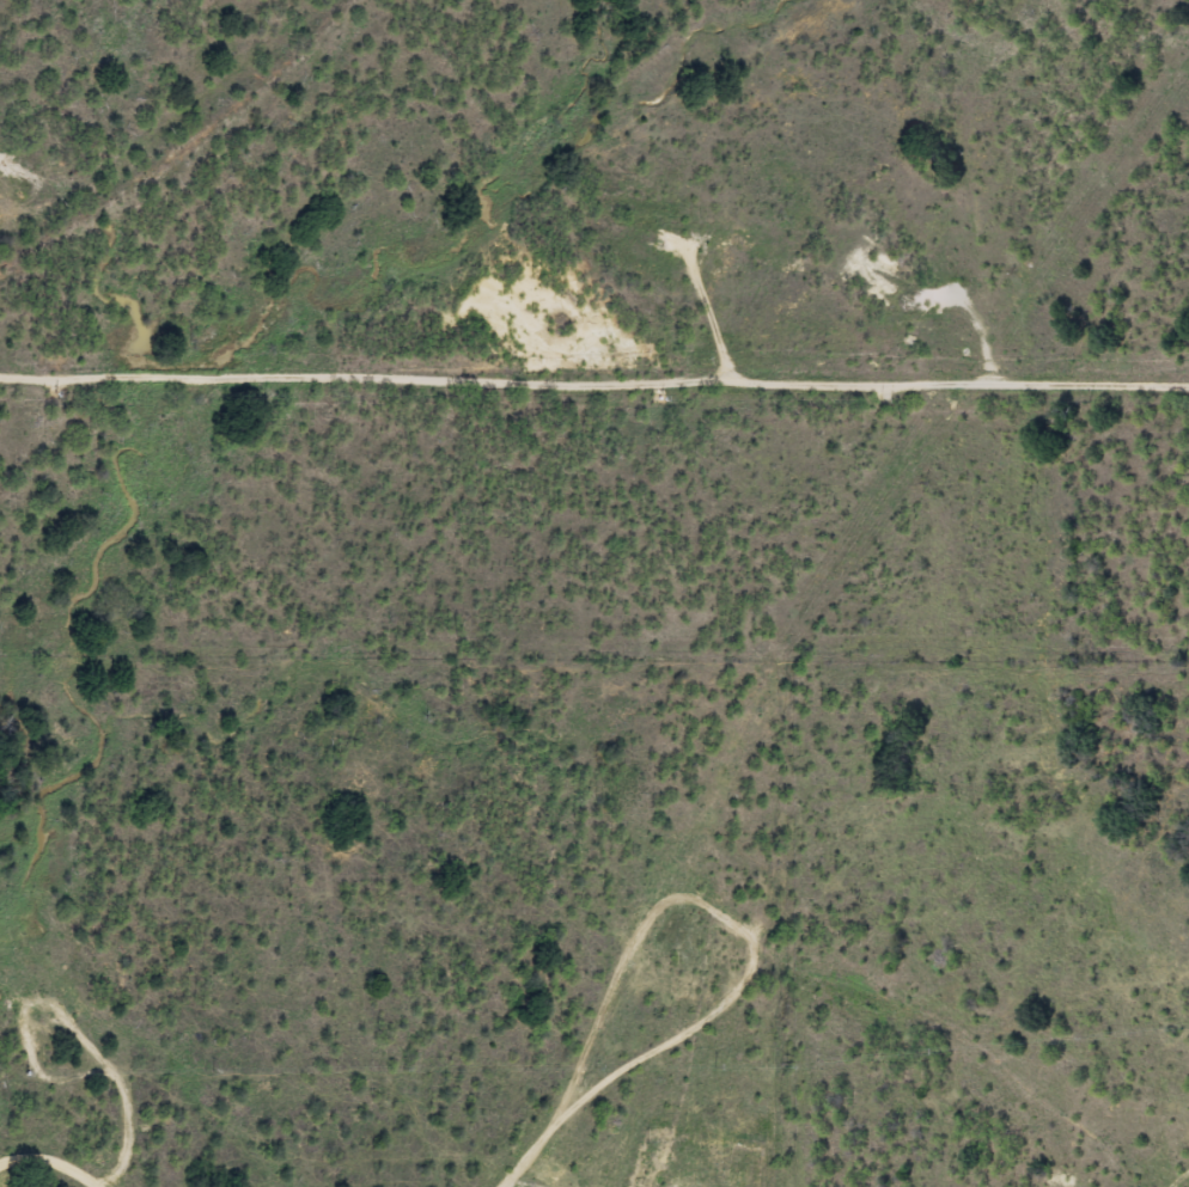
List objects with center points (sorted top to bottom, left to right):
railway: (179, 145)
road: (977, 167)

